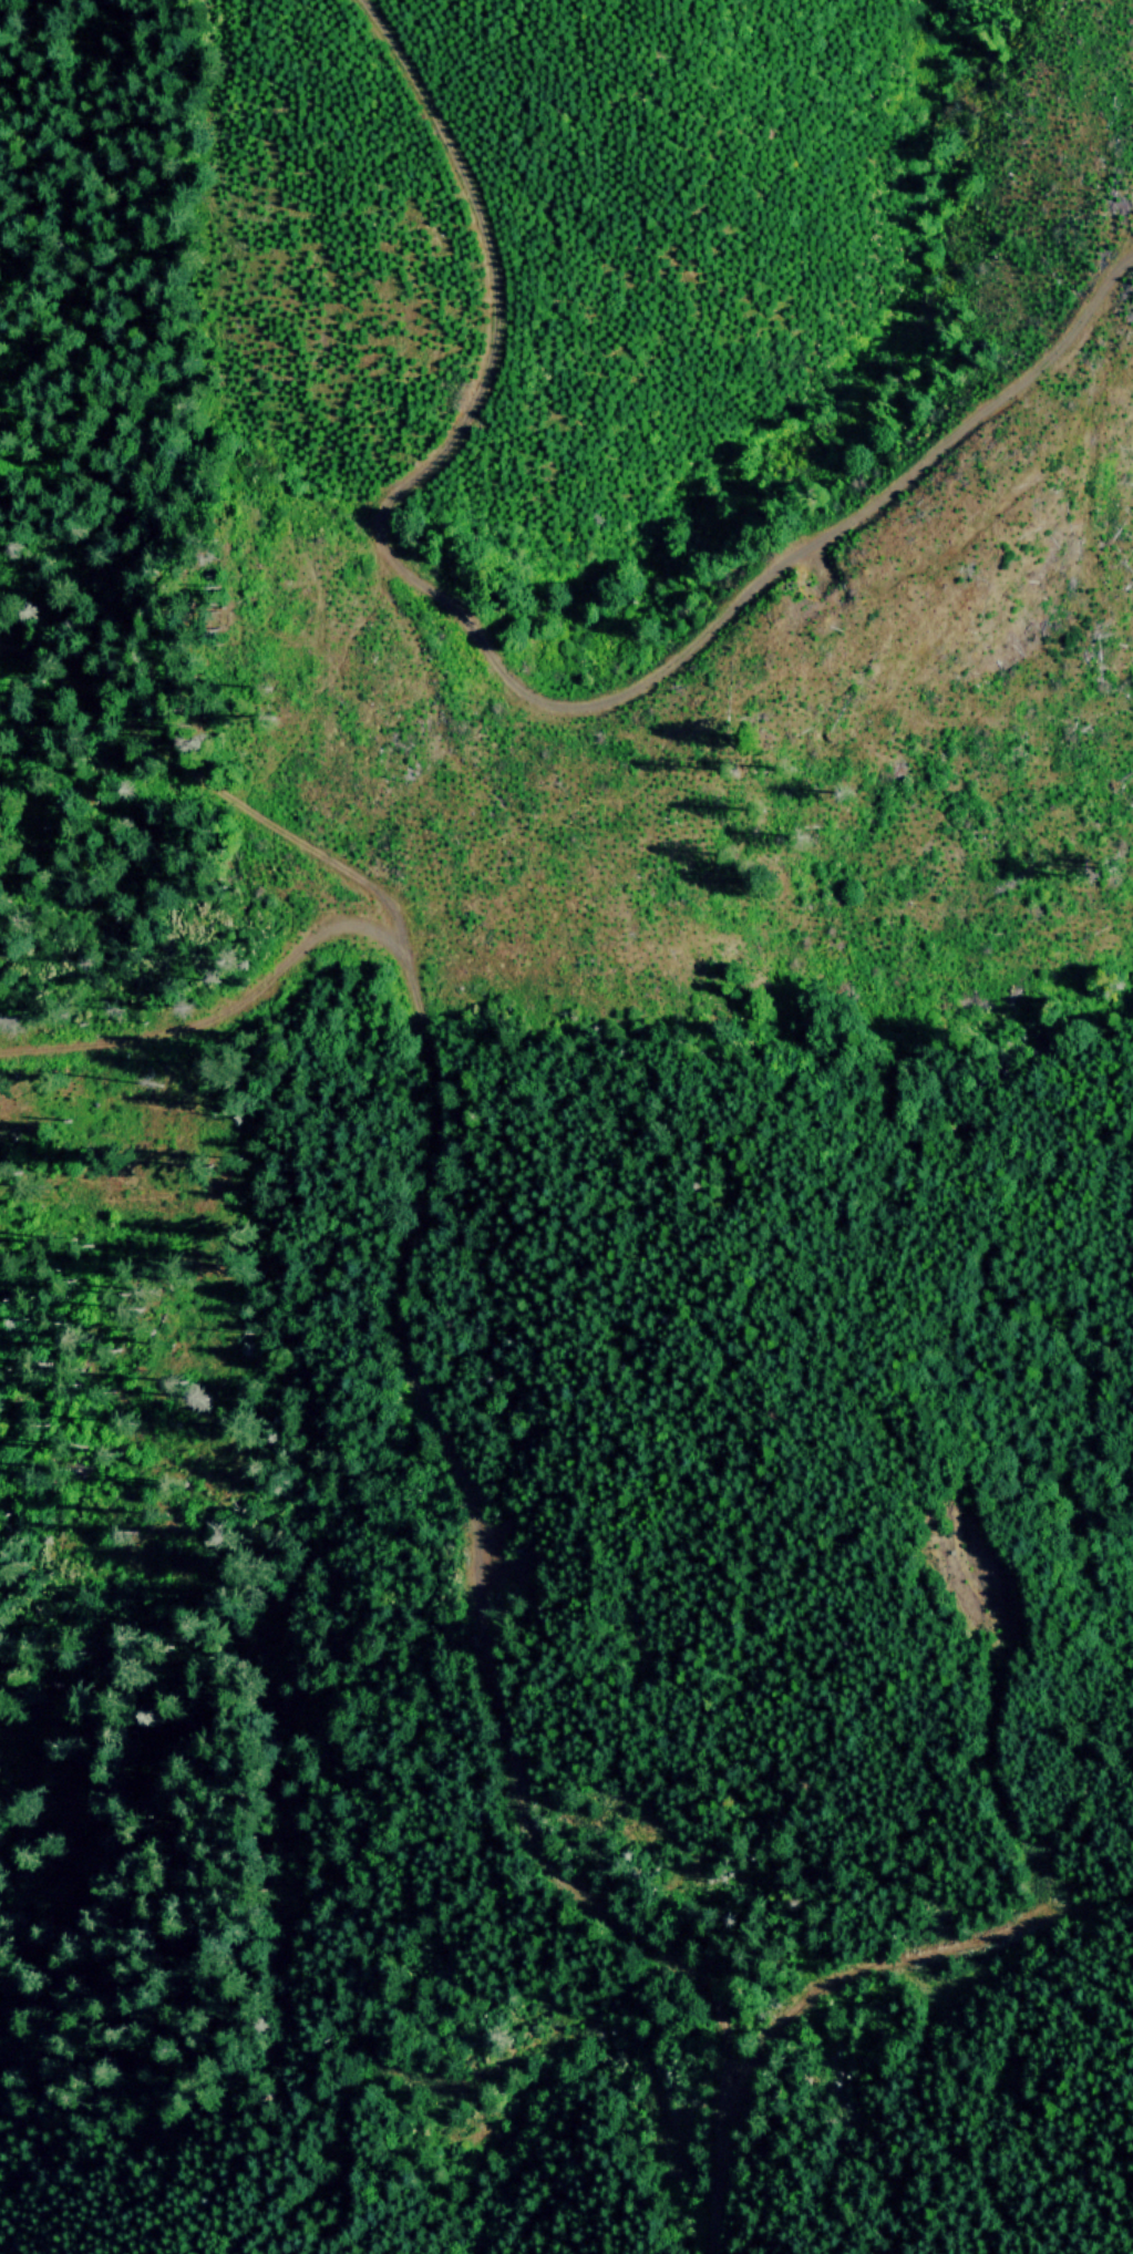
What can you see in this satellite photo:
road: (491, 271)
road: (768, 584)
road: (333, 676)
road: (123, 724)
road: (210, 1018)
road: (451, 1455)
road: (899, 1948)
road: (722, 2180)

